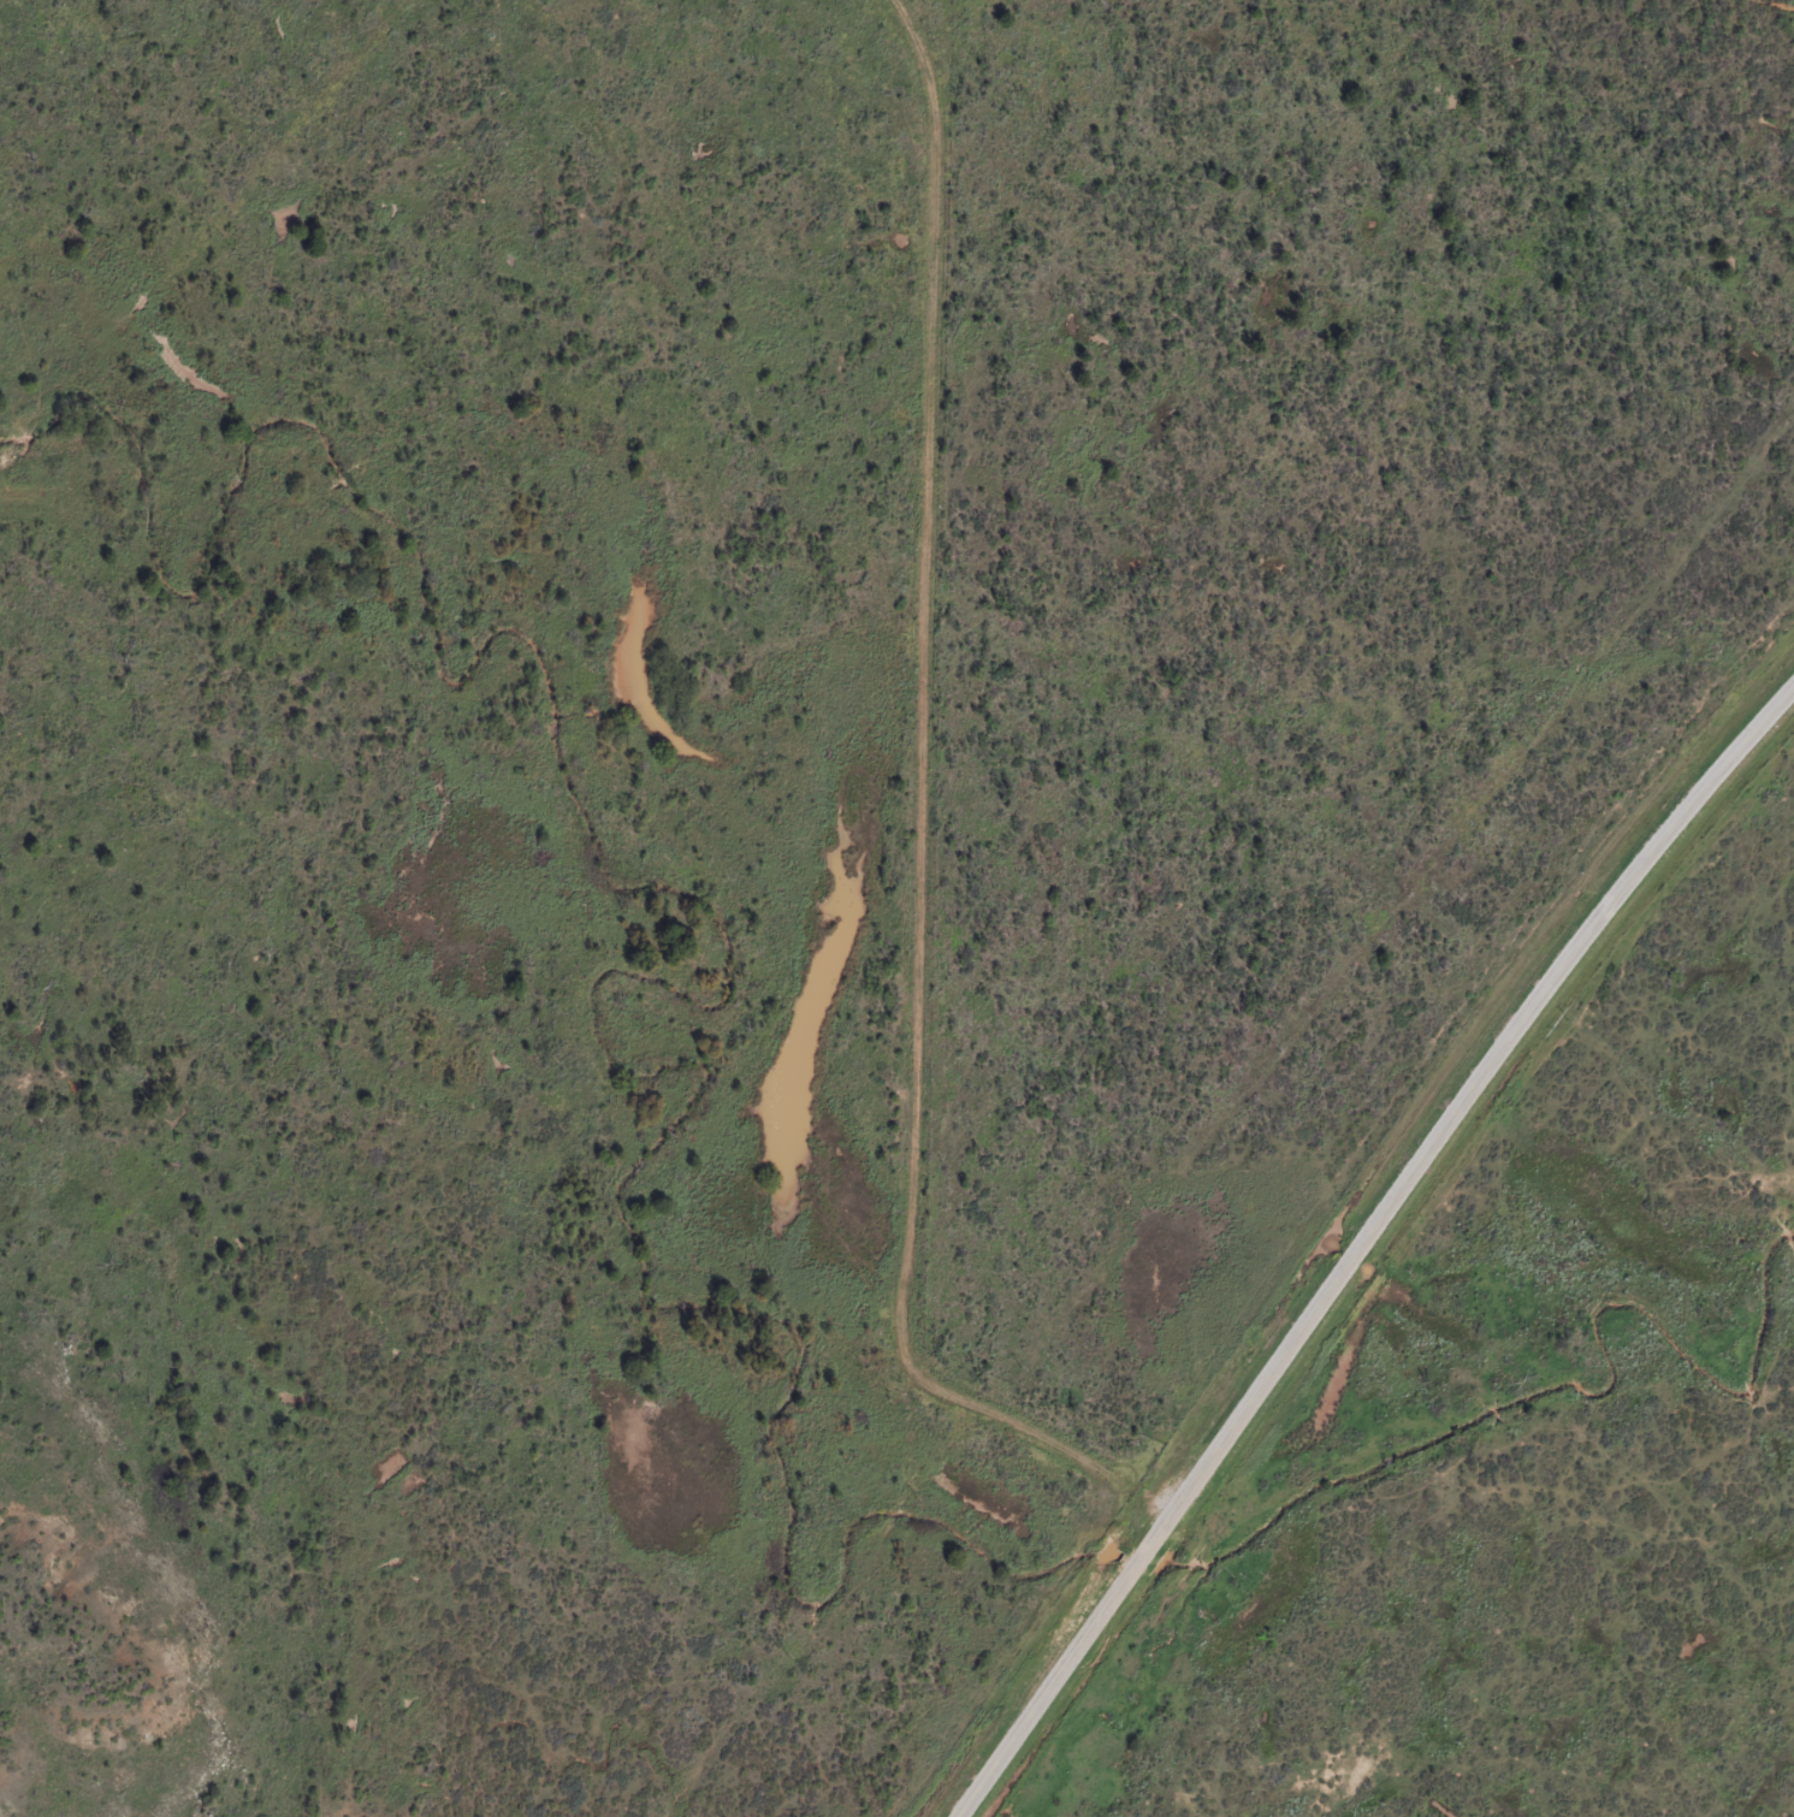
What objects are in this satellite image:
road: (913, 822)
road: (1366, 1245)

